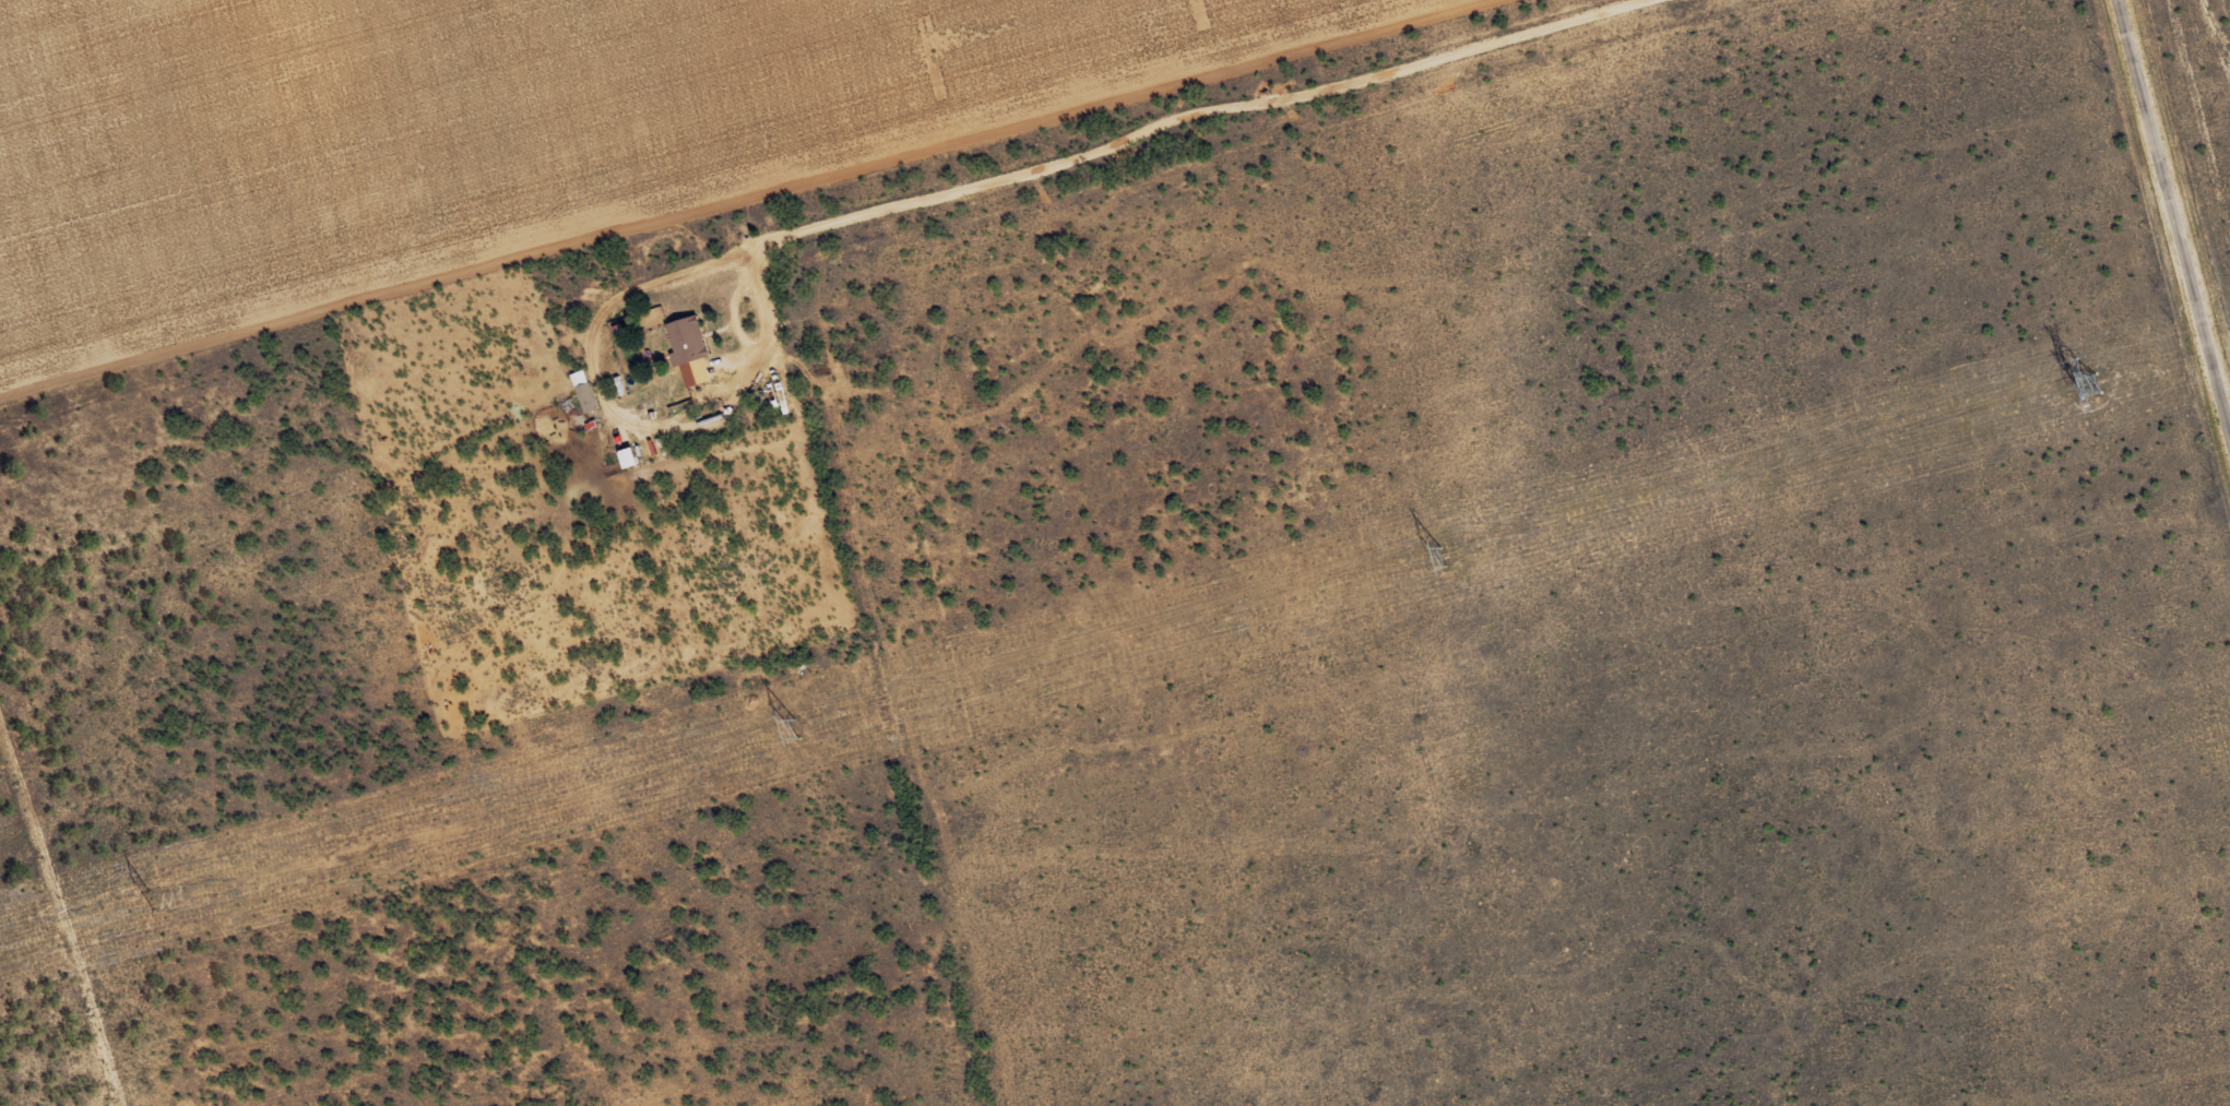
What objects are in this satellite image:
road: (2175, 213)
building: (688, 338)
power tower: (2083, 385)
building: (585, 390)
building: (645, 407)
building: (629, 457)
power tower: (1445, 557)
power tower: (797, 727)
power tower: (152, 902)

